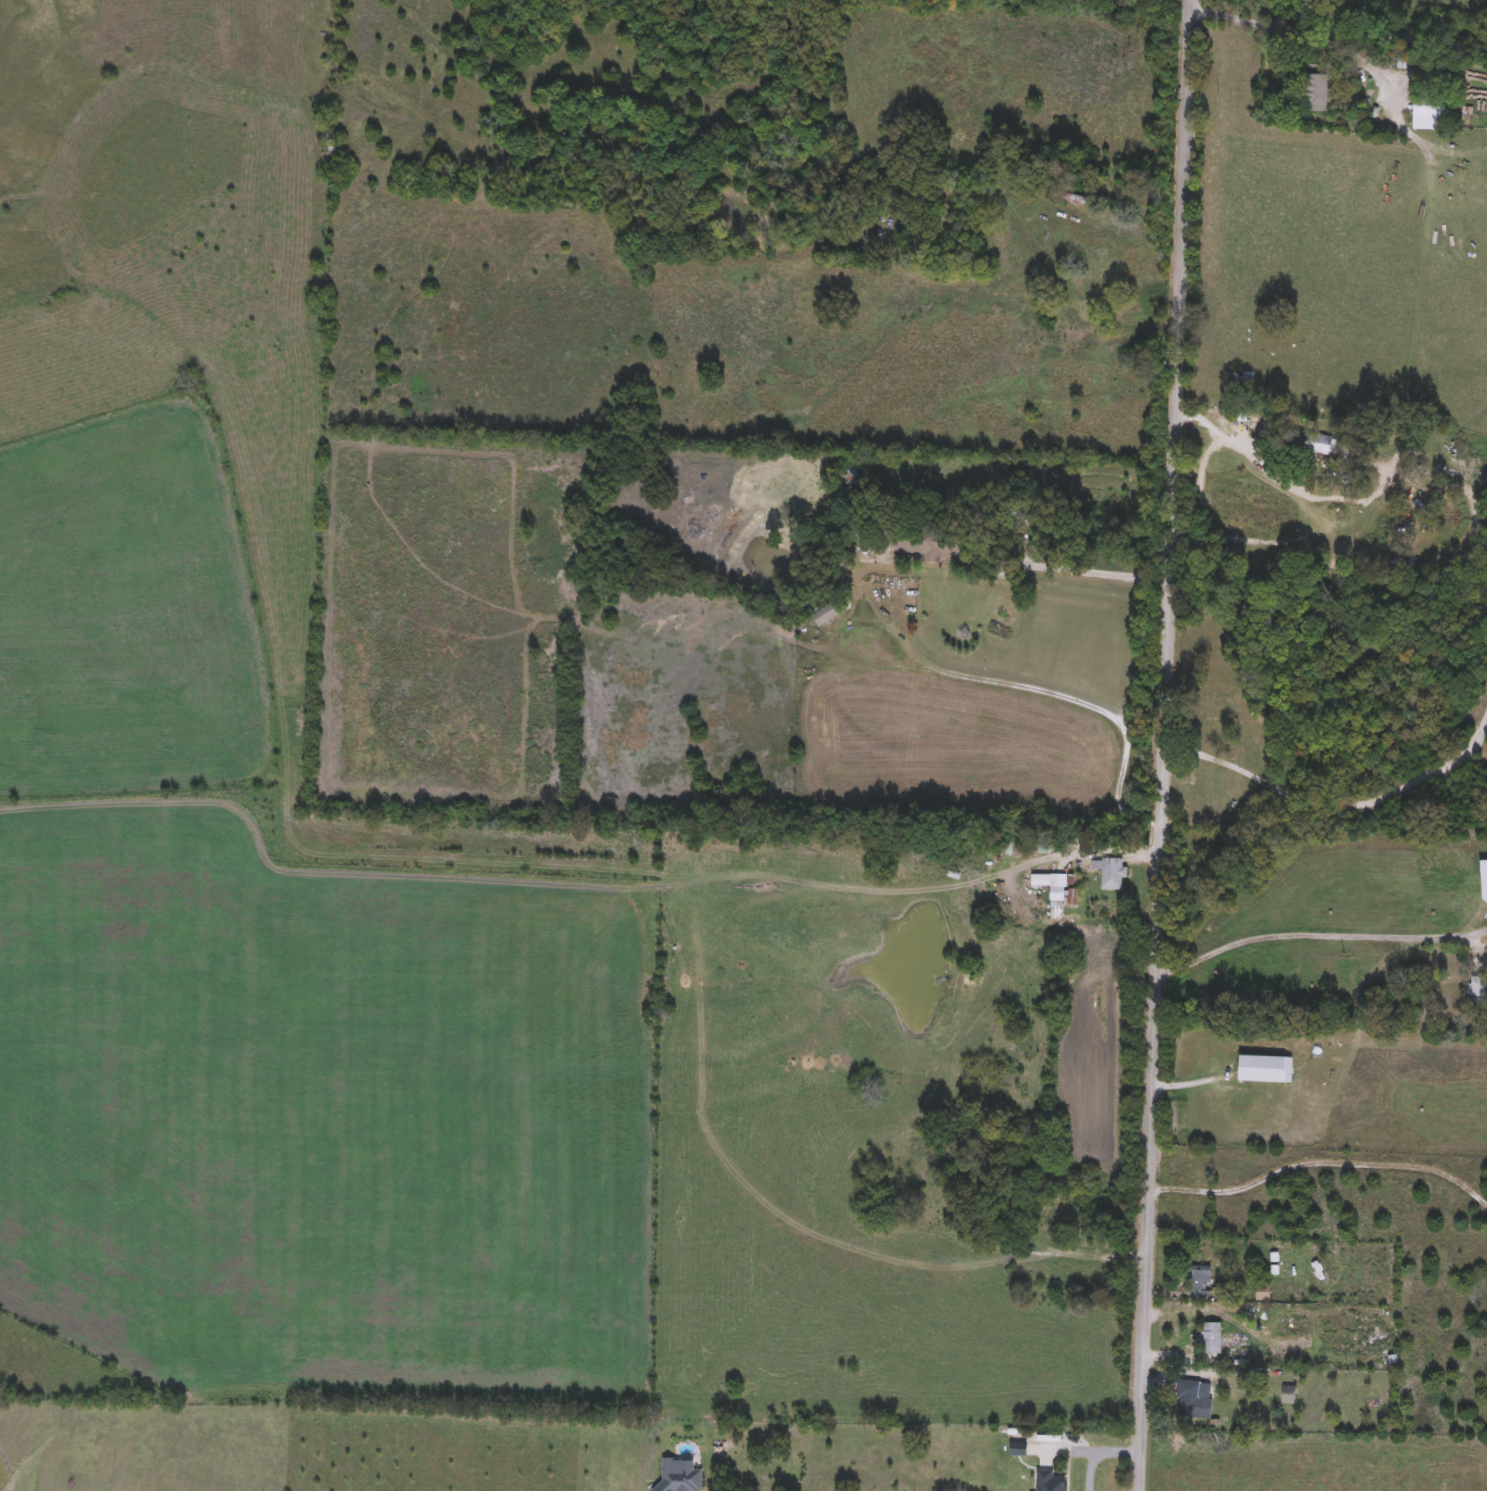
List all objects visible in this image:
road: (1287, 35)
building: (1317, 88)
building: (1431, 112)
building: (1317, 446)
road: (1200, 473)
road: (1361, 512)
building: (932, 545)
building: (825, 615)
road: (834, 655)
road: (1164, 745)
building: (1267, 774)
building: (1236, 788)
road: (1335, 801)
building: (1112, 874)
building: (1484, 884)
building: (1057, 889)
road: (1297, 936)
building: (1477, 993)
building: (1265, 1070)
building: (1201, 1285)
building: (1263, 1293)
building: (1211, 1339)
building: (1288, 1395)
building: (1187, 1399)
building: (713, 1447)
road: (1097, 1453)
building: (1049, 1482)

